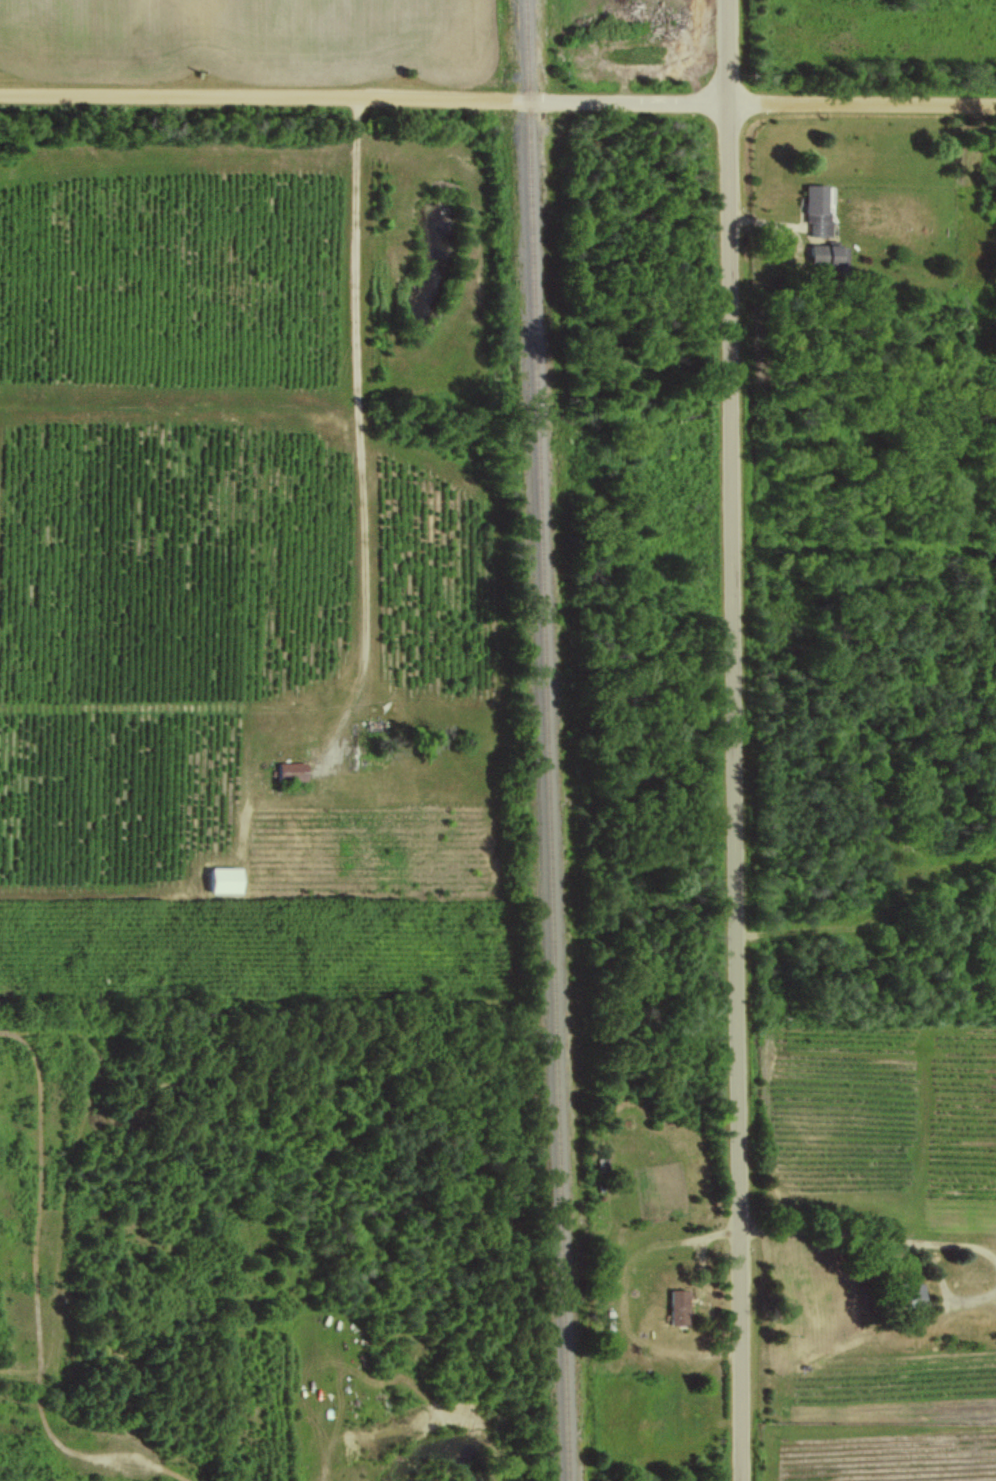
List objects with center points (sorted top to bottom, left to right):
road: (498, 99)
building: (818, 208)
building: (829, 253)
road: (362, 432)
road: (205, 512)
railway: (545, 740)
road: (737, 740)
building: (293, 771)
building: (226, 880)
road: (827, 1230)
road: (958, 1240)
road: (947, 1285)
building: (913, 1293)
building: (677, 1306)

